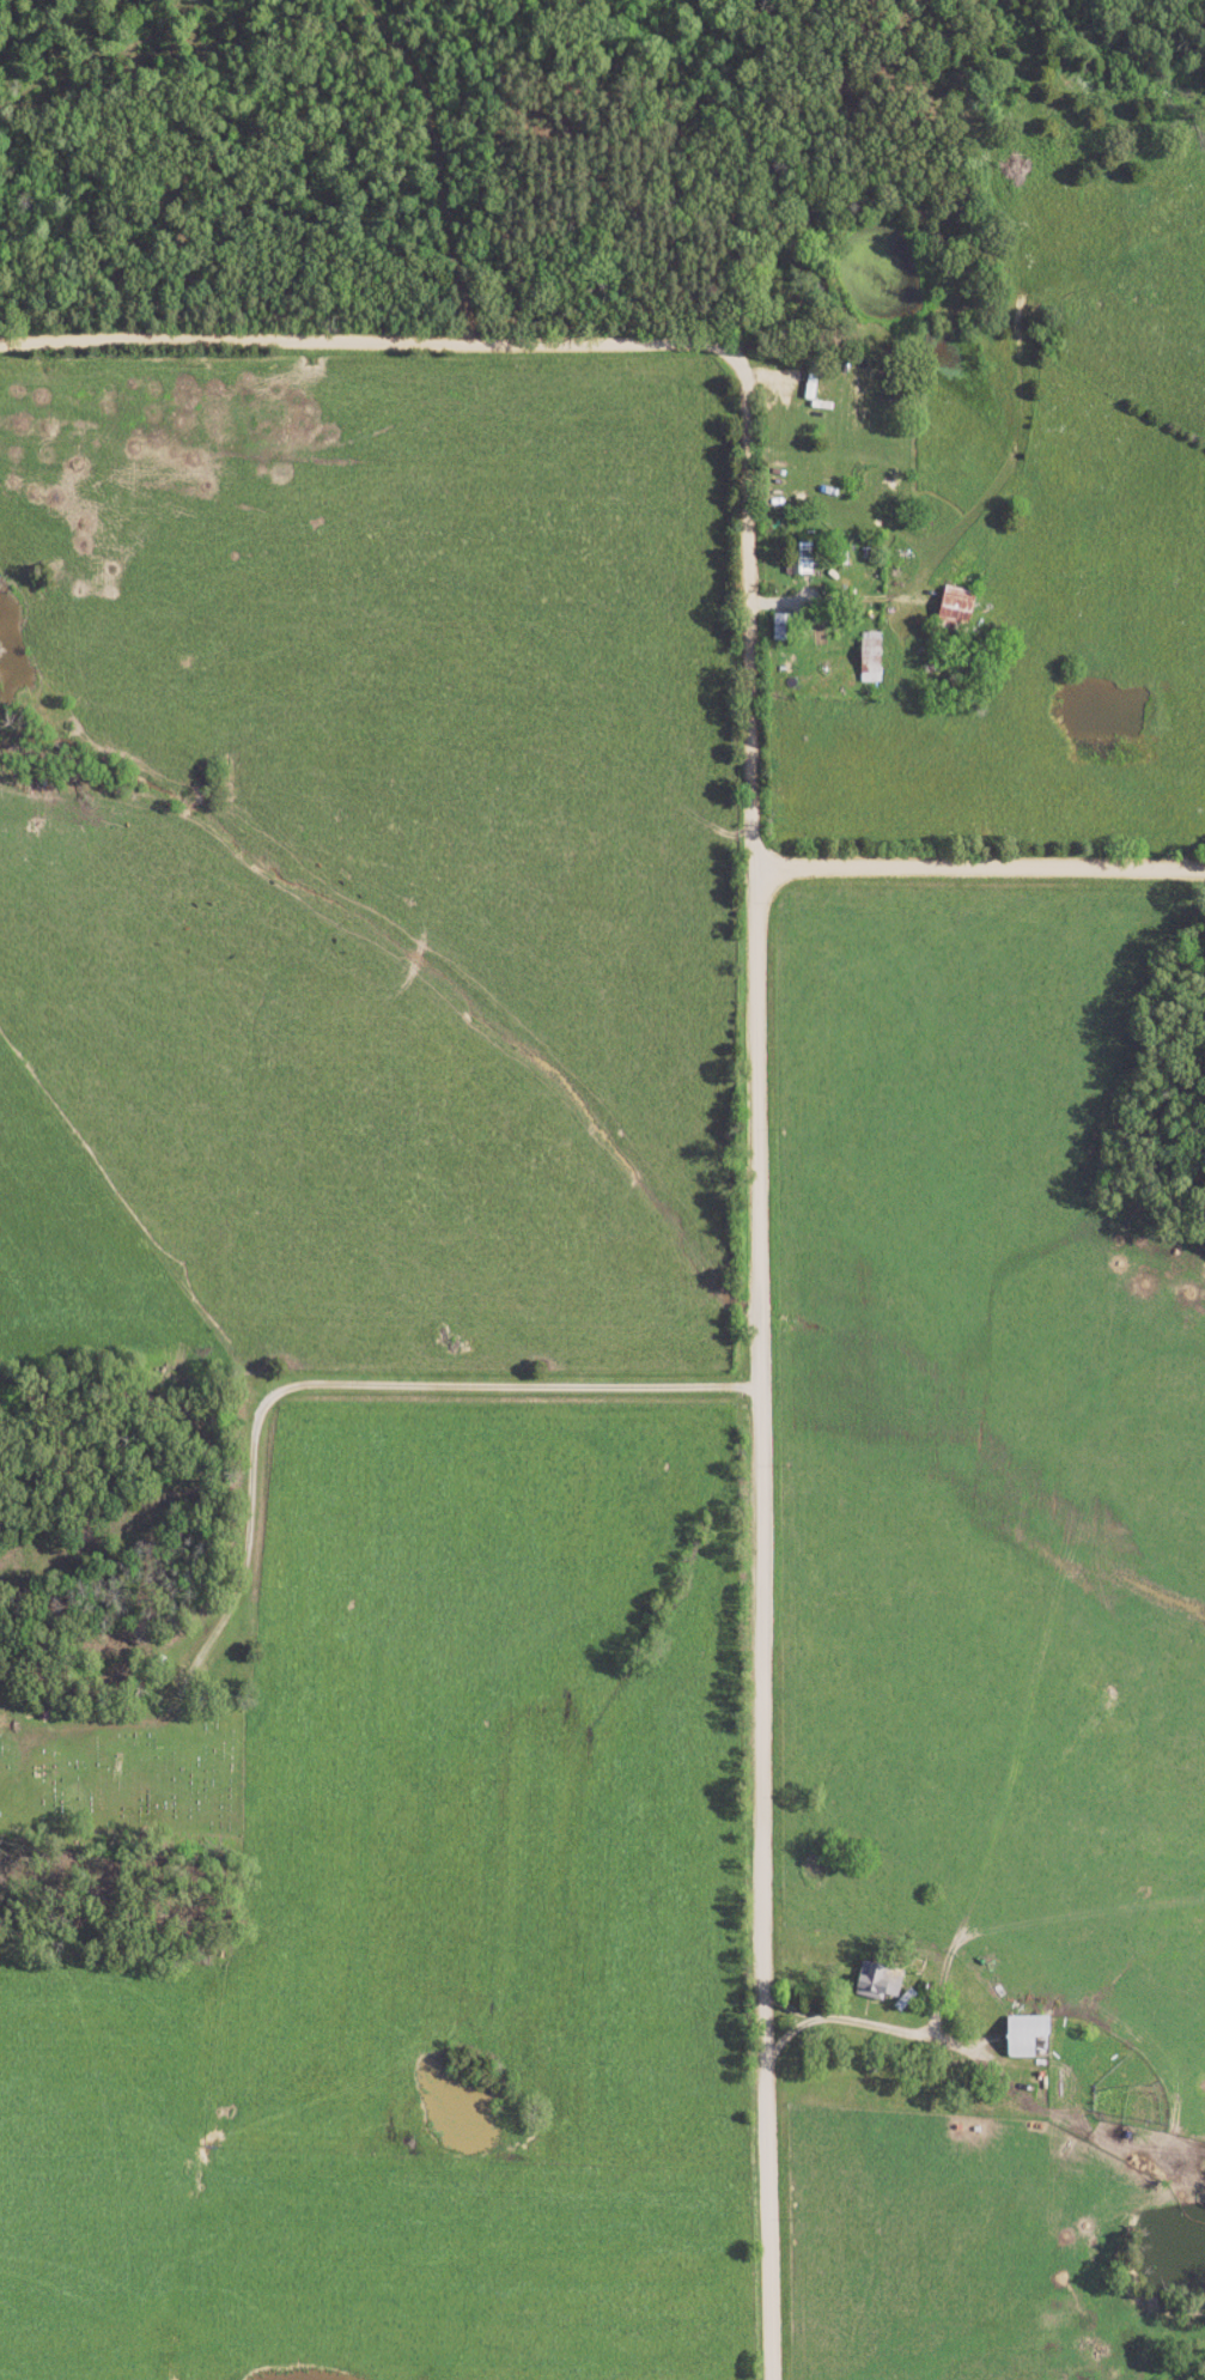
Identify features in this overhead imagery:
building: (810, 389)
building: (803, 558)
building: (954, 605)
building: (870, 658)
road: (984, 863)
road: (755, 995)
road: (365, 1384)
park: (122, 1769)
building: (876, 1980)
building: (1024, 2036)
road: (822, 2255)

